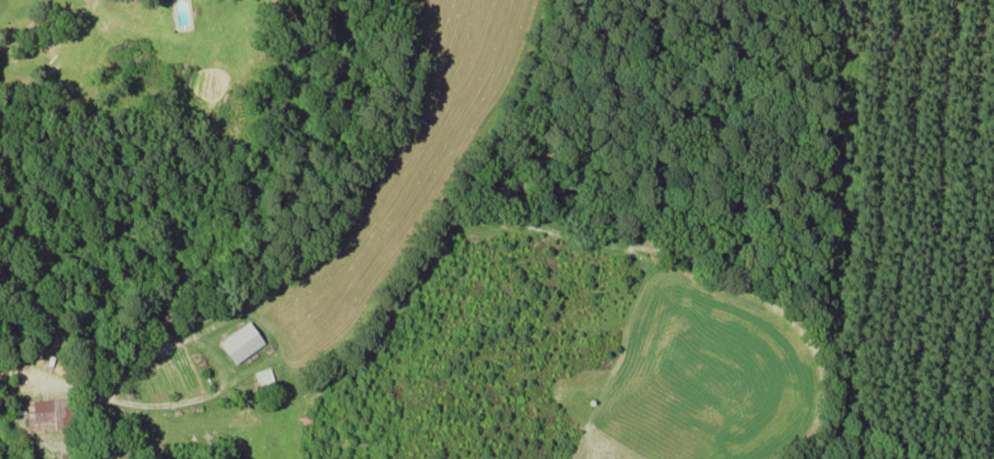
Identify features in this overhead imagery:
building: (237, 342)
building: (45, 413)

